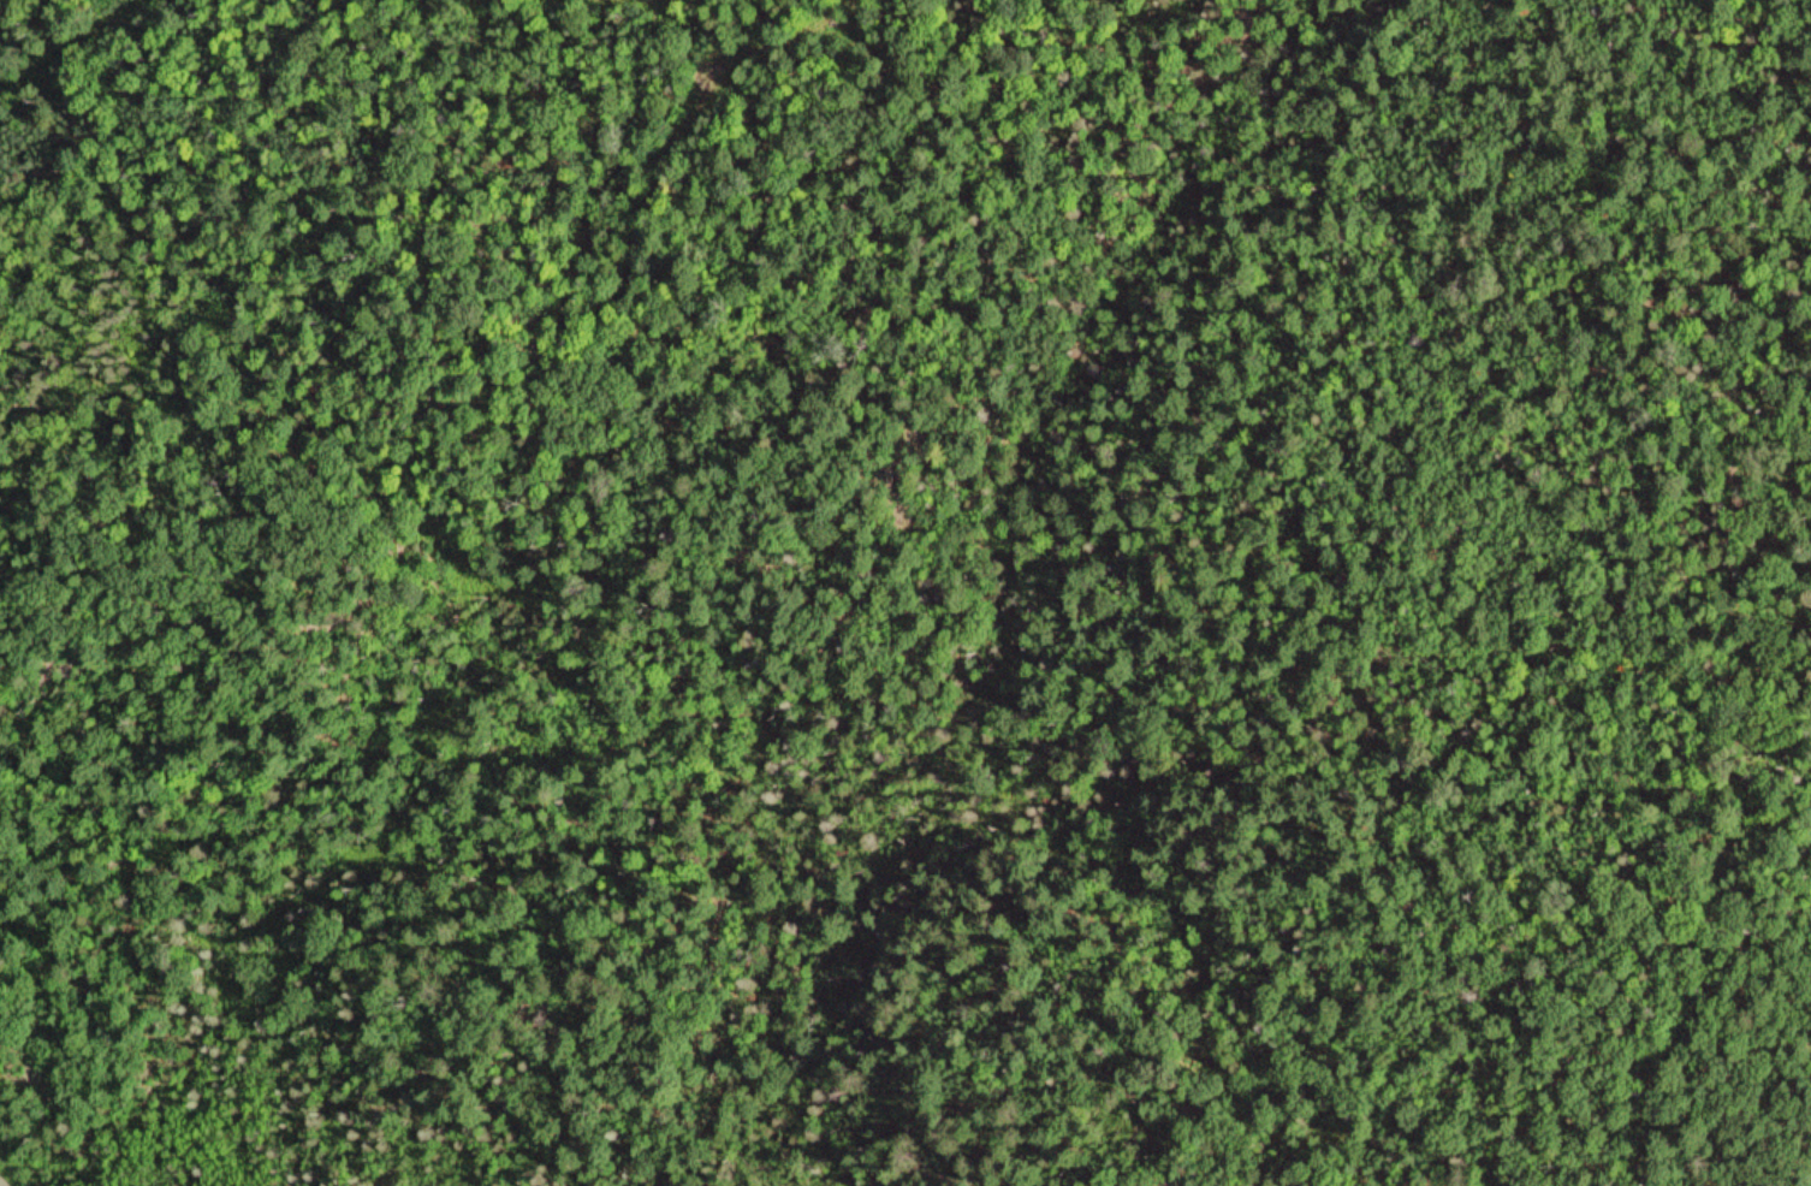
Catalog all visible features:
road: (2, 1184)

